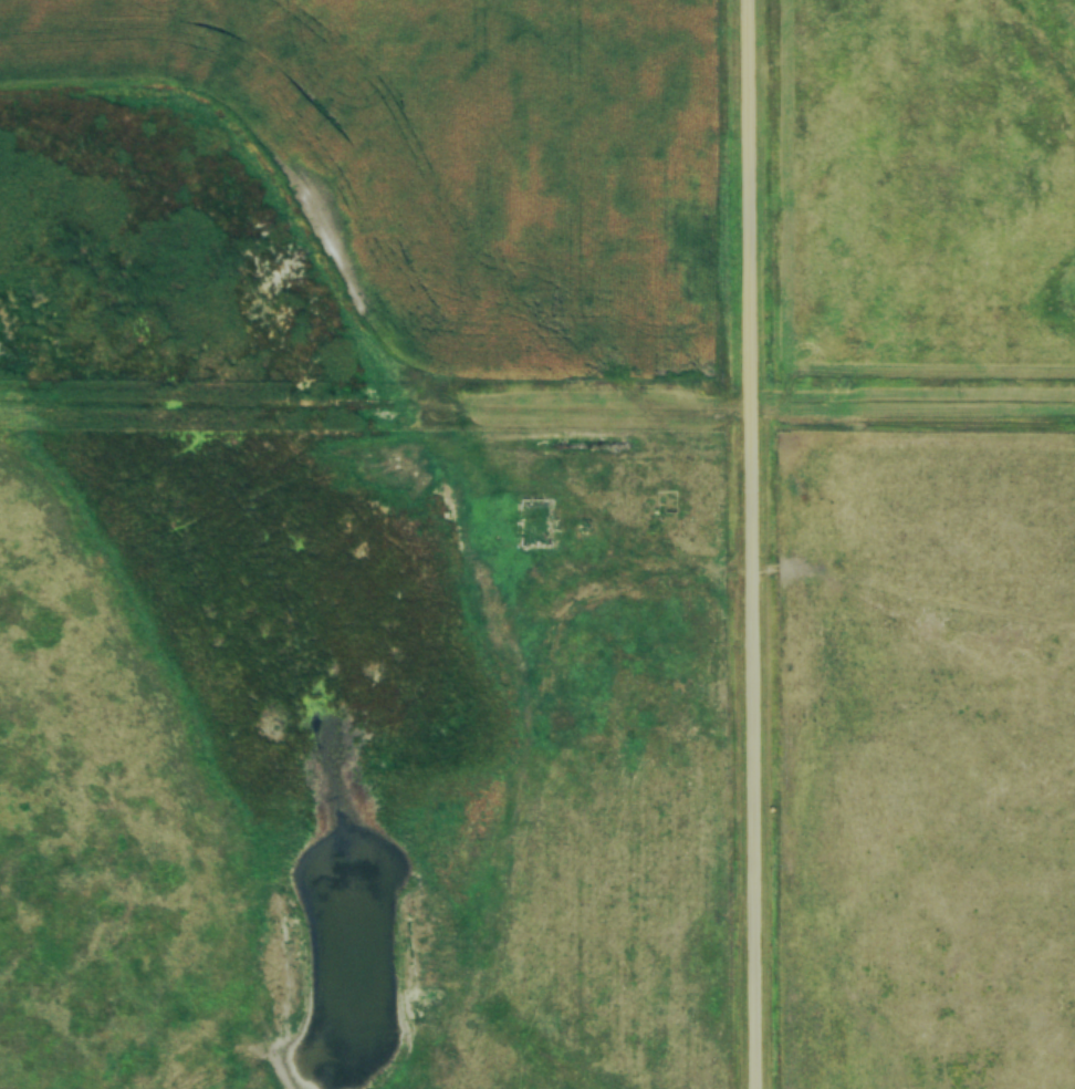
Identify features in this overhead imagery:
road: (914, 407)
road: (753, 543)

